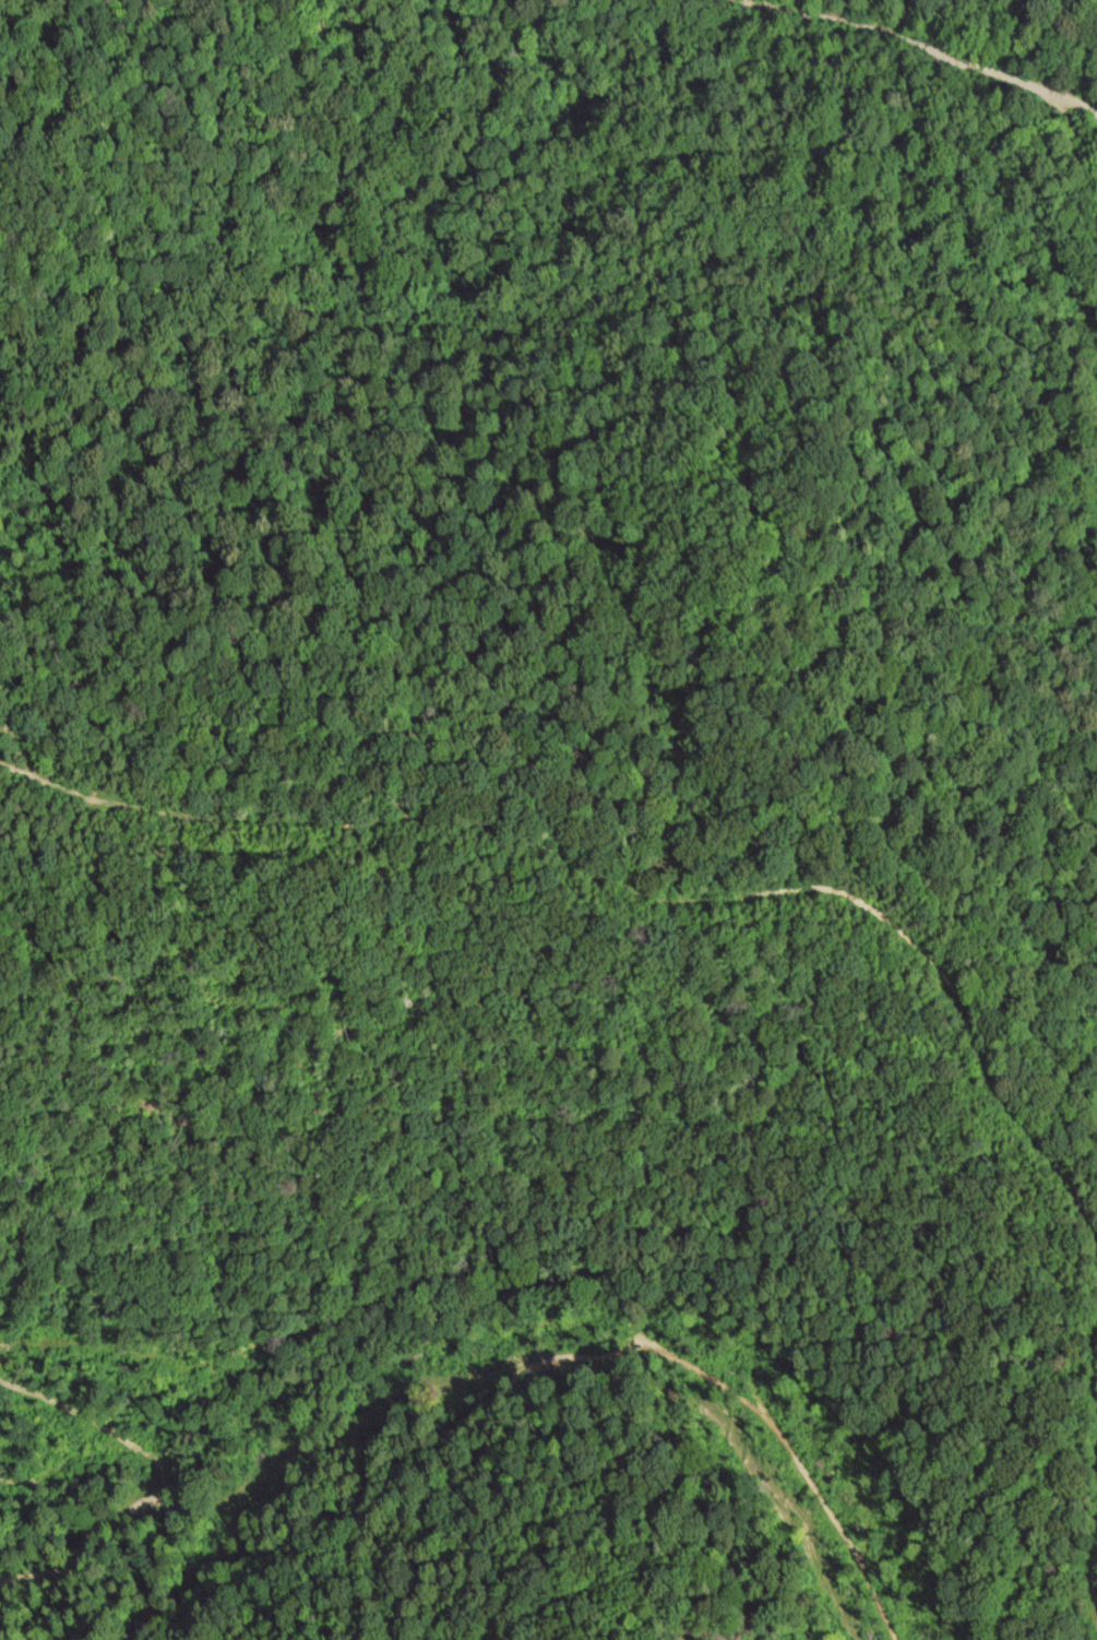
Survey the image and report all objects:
road: (917, 43)

